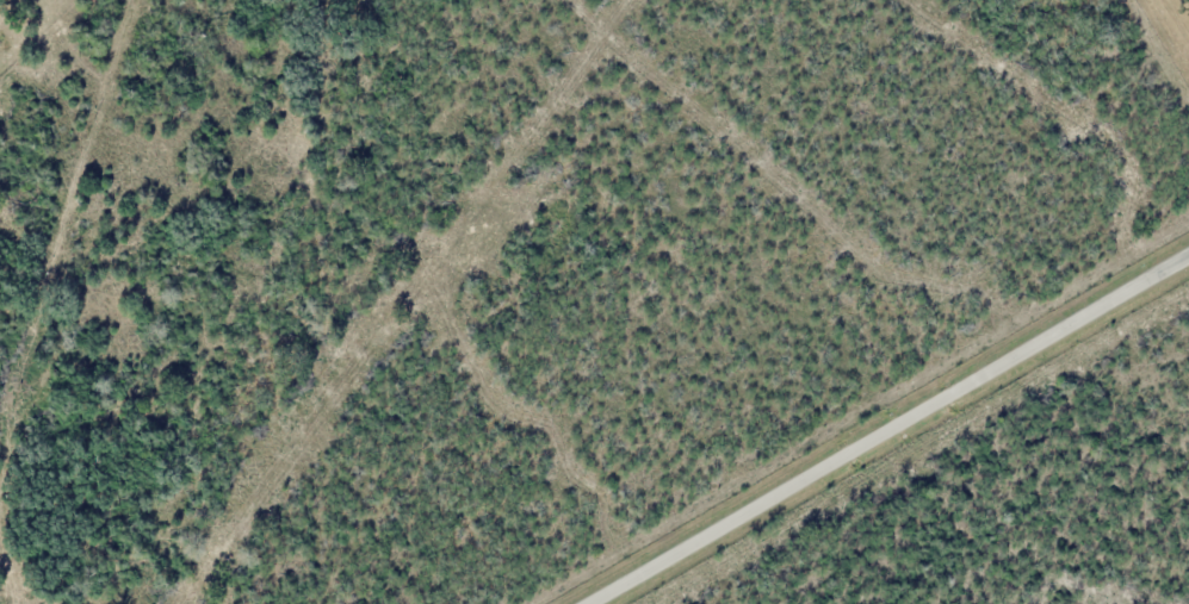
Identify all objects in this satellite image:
road: (887, 431)

